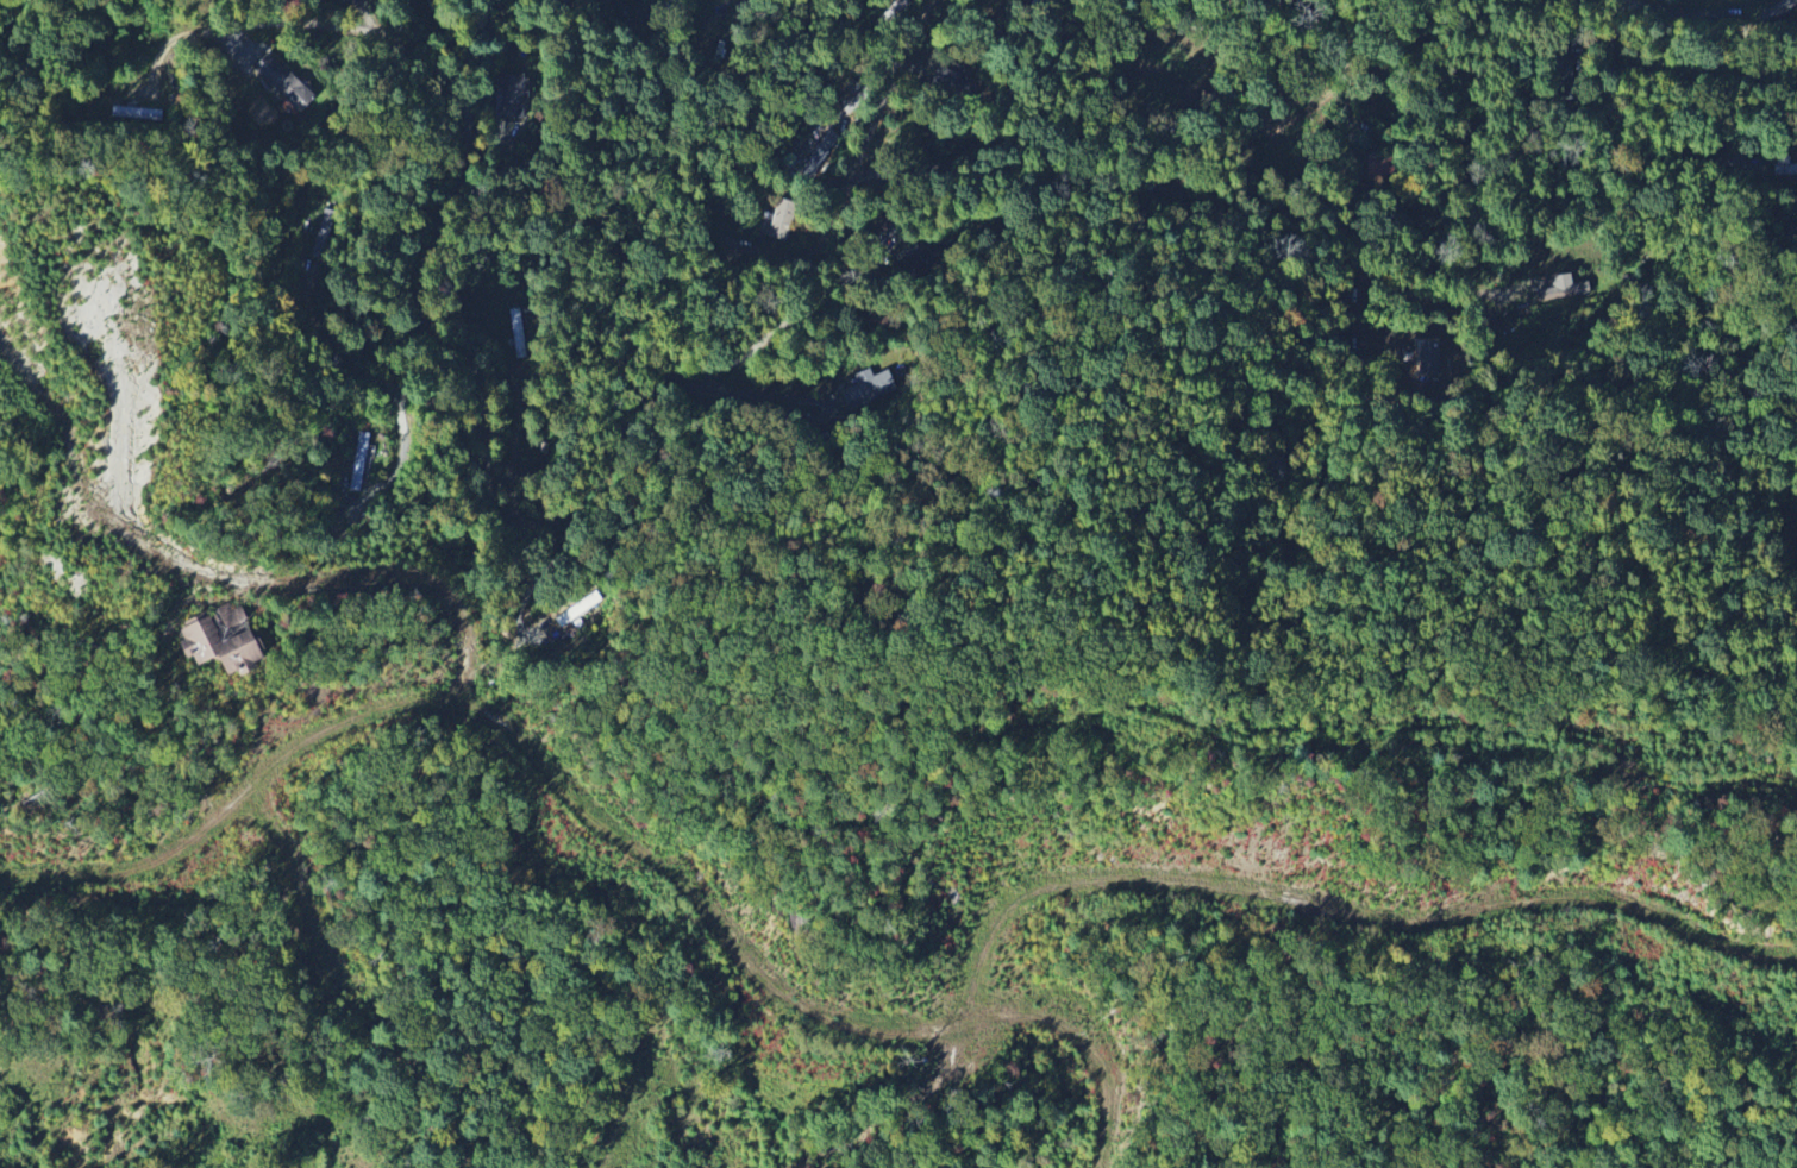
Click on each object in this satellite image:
road: (1703, 68)
building: (286, 82)
road: (1608, 83)
building: (136, 113)
building: (1785, 170)
road: (1338, 195)
road: (1342, 236)
road: (119, 364)
building: (869, 389)
road: (747, 391)
building: (357, 461)
road: (500, 523)
road: (231, 583)
road: (605, 822)
road: (1340, 913)

